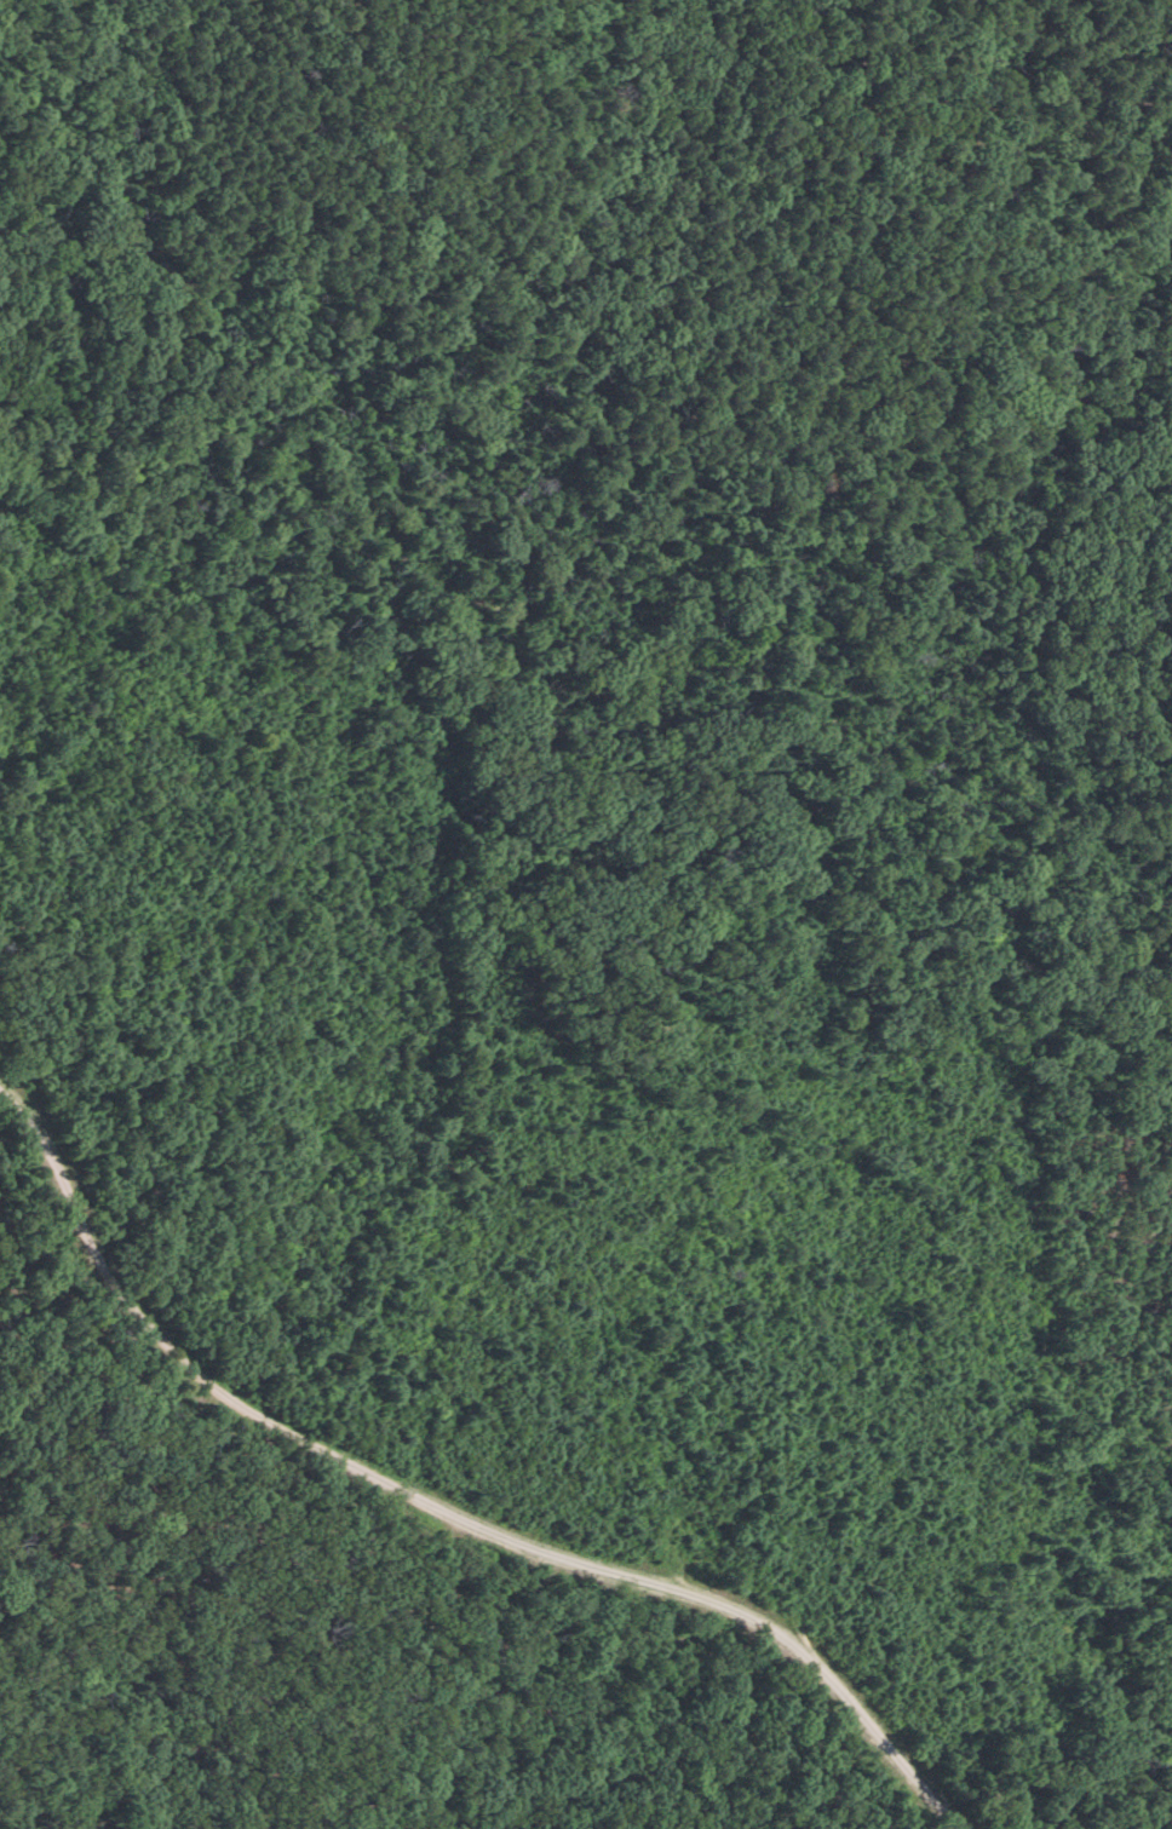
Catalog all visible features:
road: (442, 1507)

